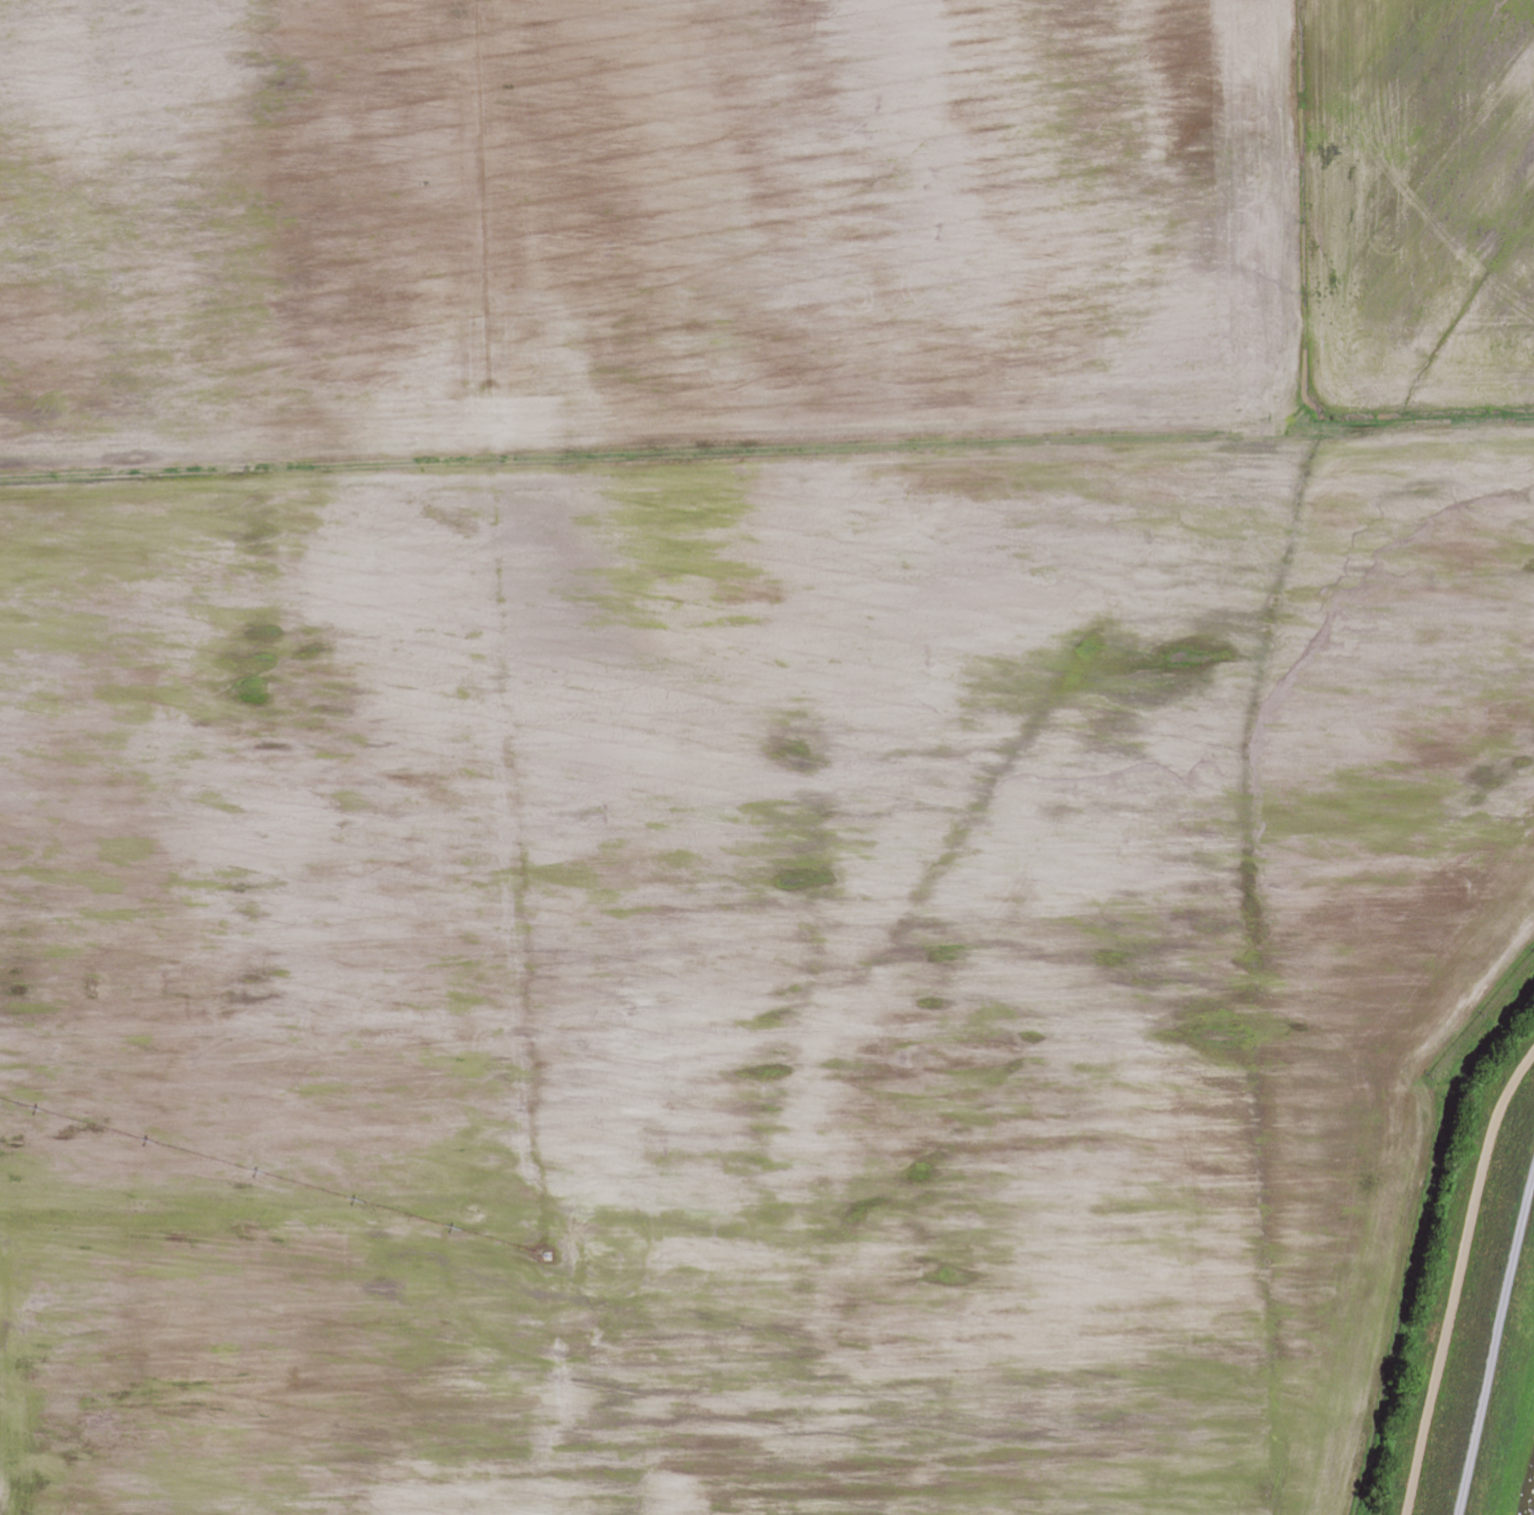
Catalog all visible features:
road: (1457, 1278)
road: (1495, 1341)

